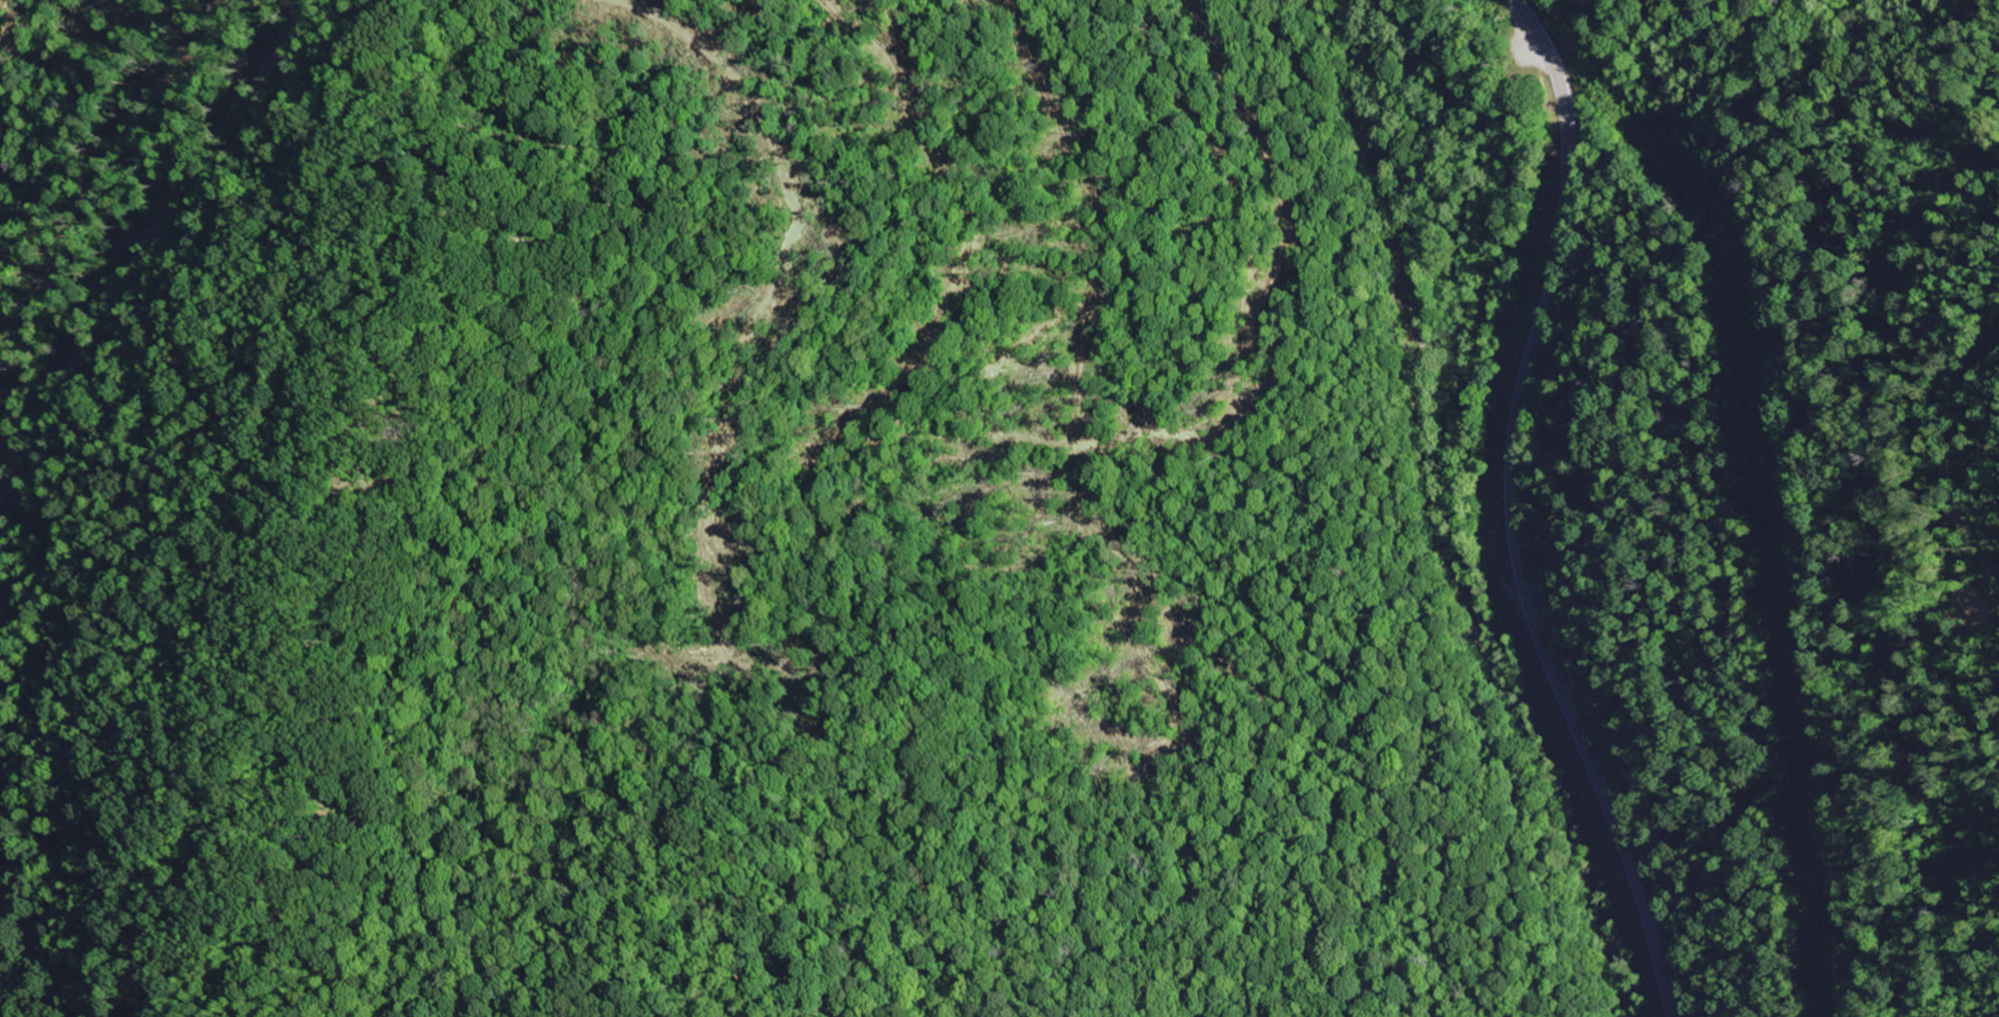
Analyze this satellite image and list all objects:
road: (1513, 512)

